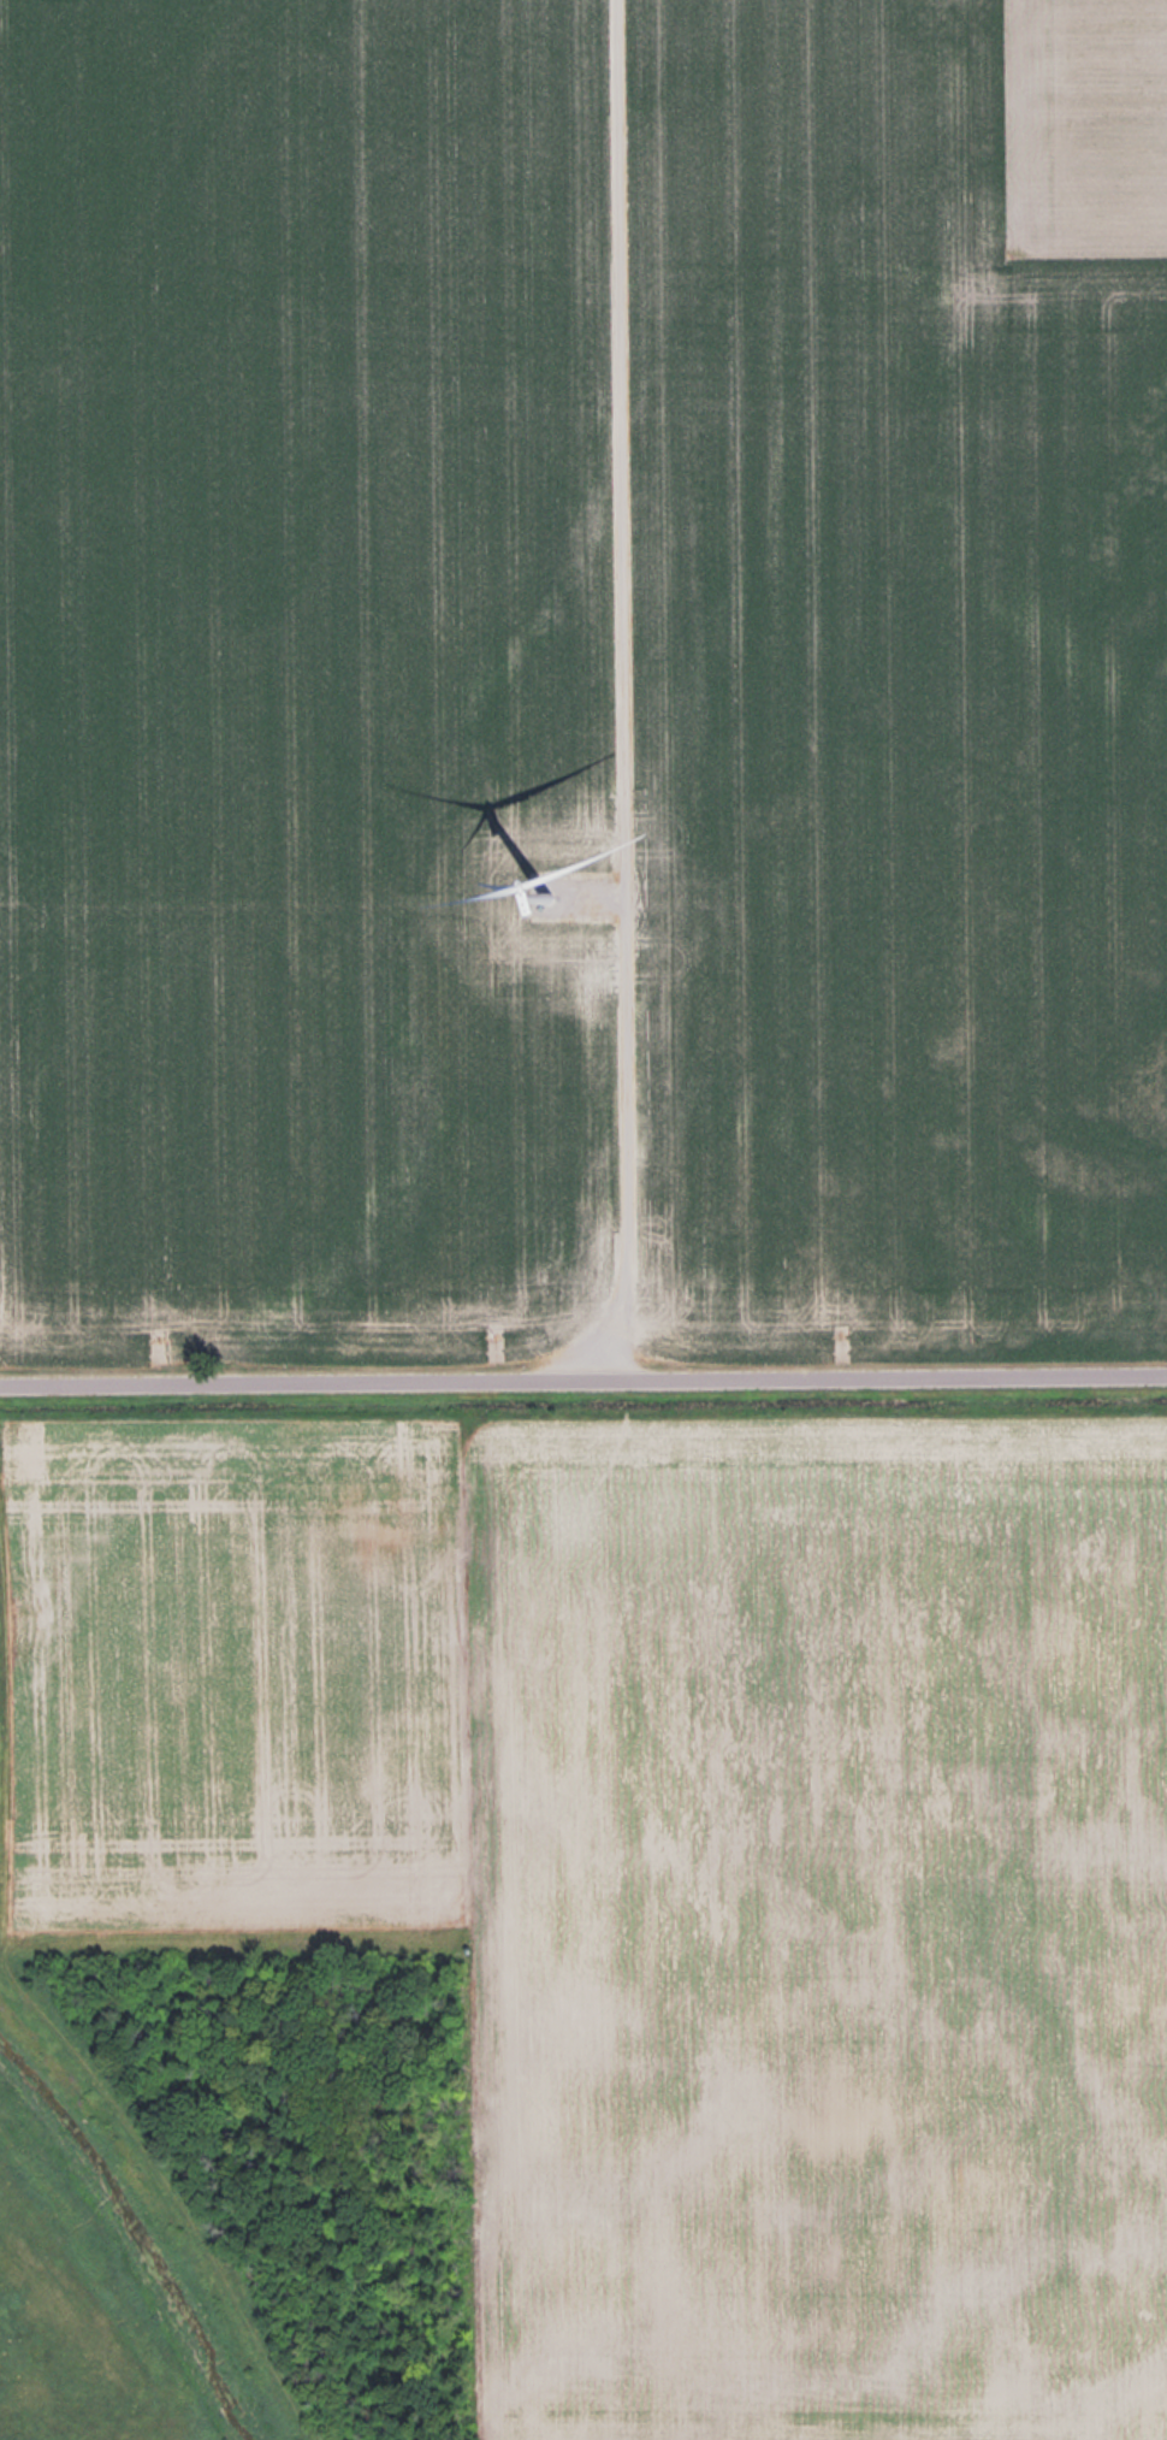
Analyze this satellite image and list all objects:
road: (628, 689)
wind turbine: (547, 865)
road: (582, 1378)

